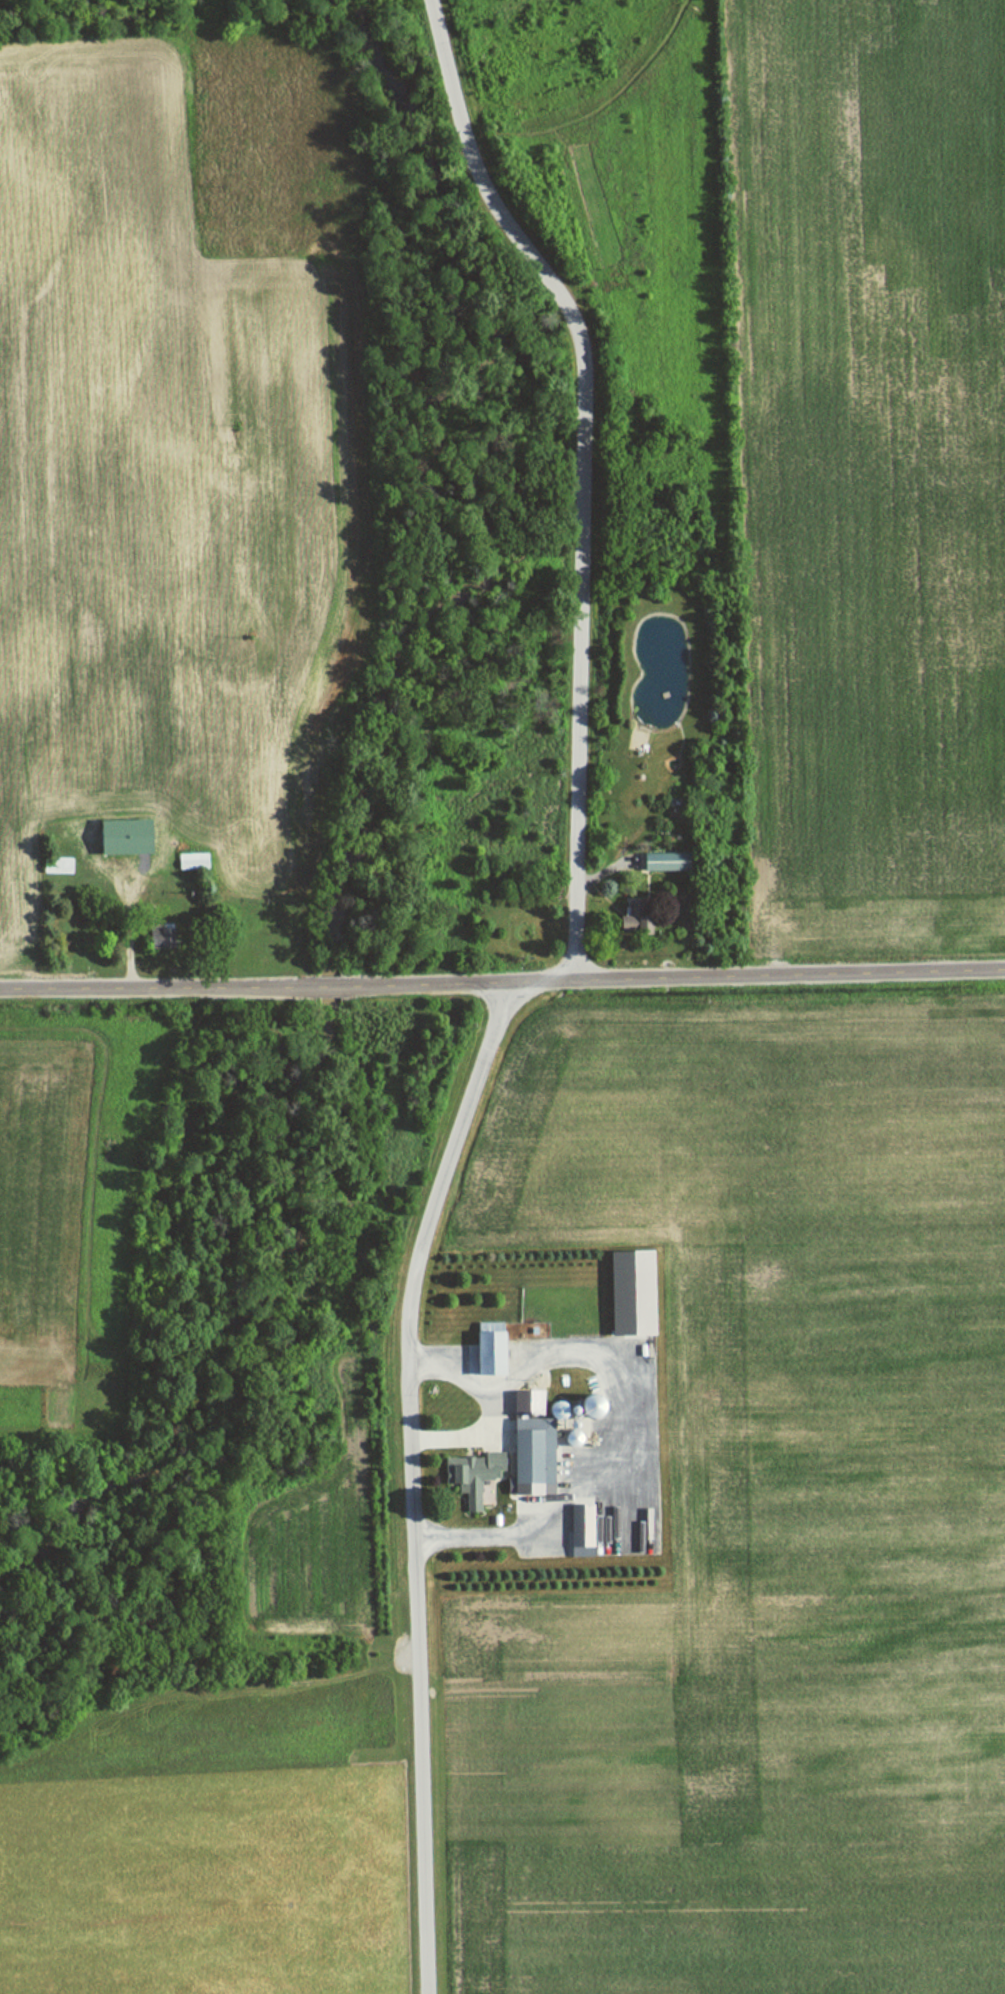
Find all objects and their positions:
crop: (867, 457)
crop: (156, 474)
building: (127, 836)
building: (667, 861)
road: (502, 982)
road: (534, 983)
crop: (70, 1210)
building: (634, 1292)
road: (629, 1403)
road: (466, 1439)
building: (516, 1460)
crop: (764, 1521)
building: (584, 1530)
crop: (202, 1884)

